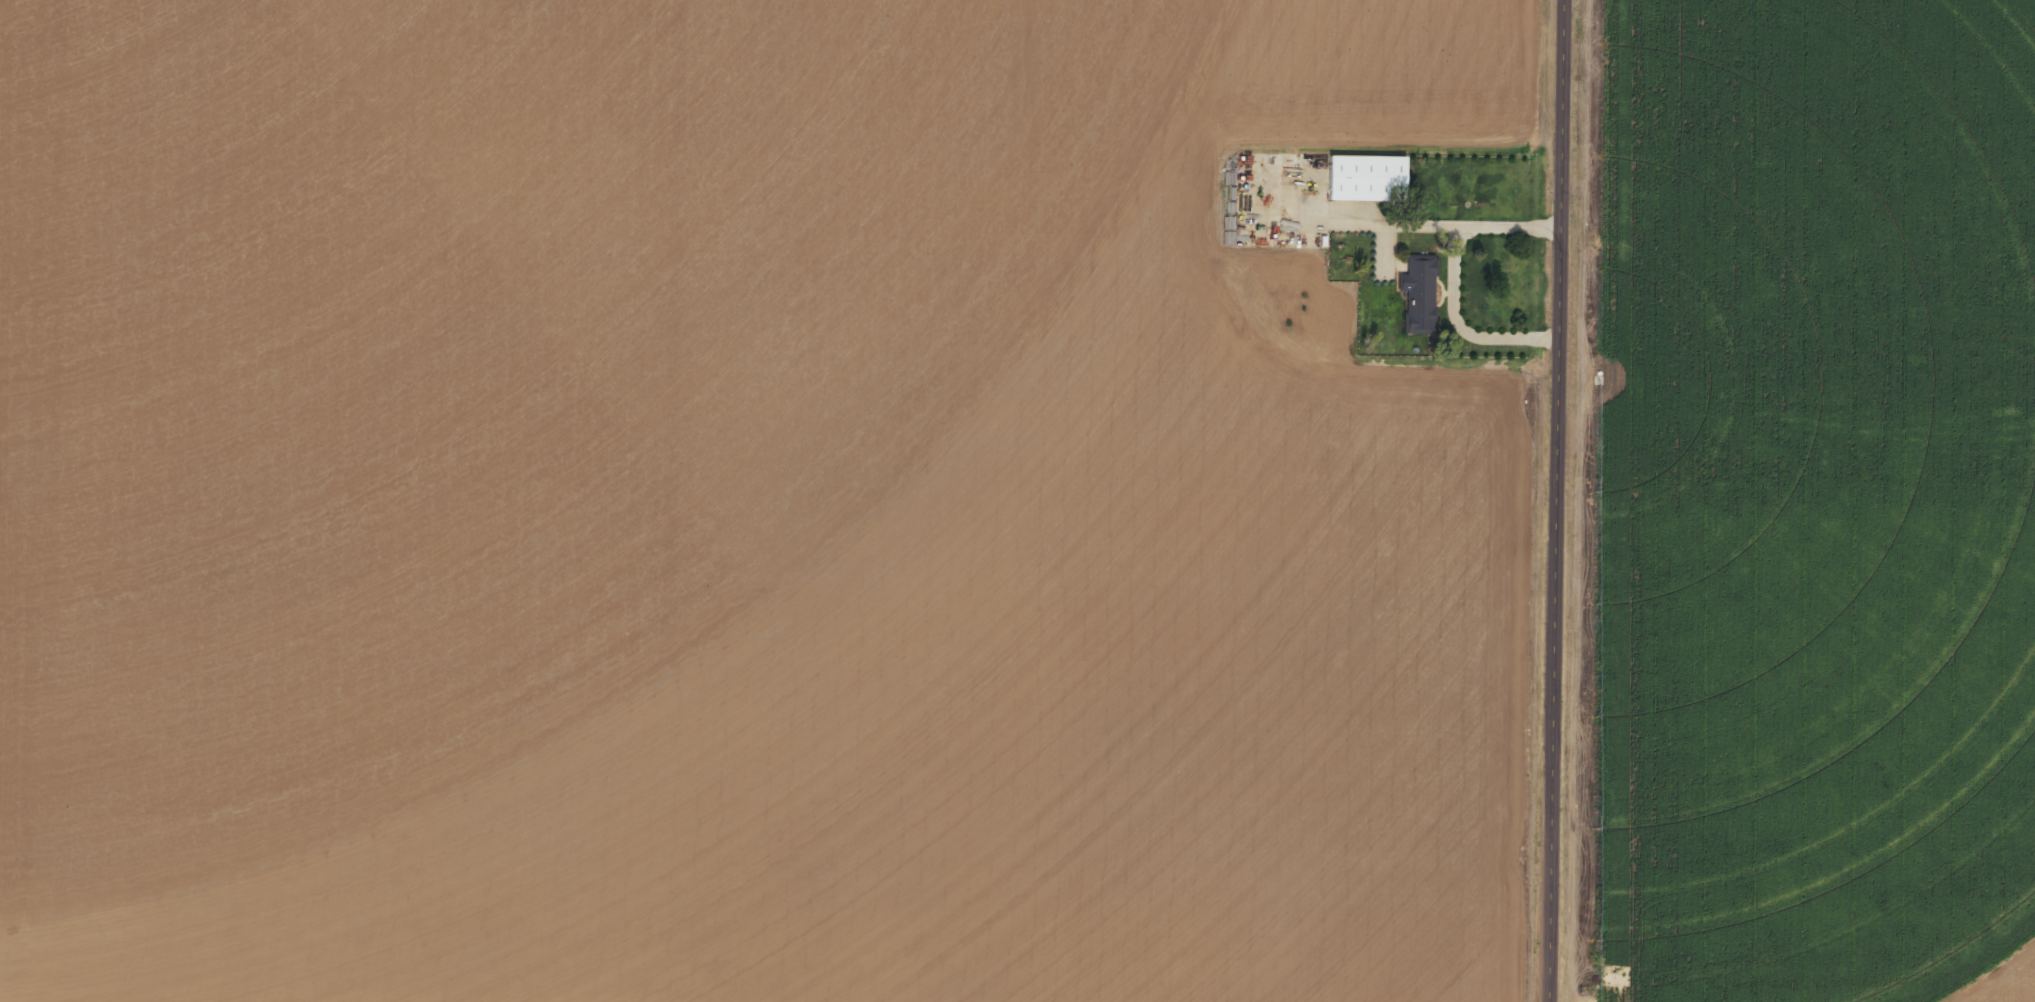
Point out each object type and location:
building: (1419, 270)
road: (1559, 500)

